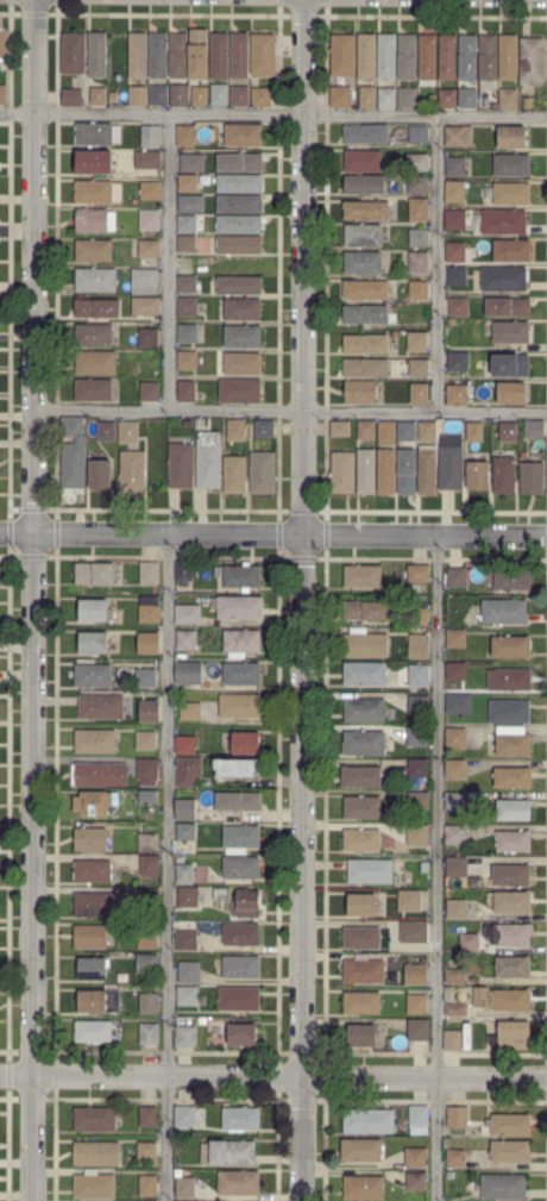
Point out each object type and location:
building: (4, 45)
building: (74, 54)
building: (98, 54)
building: (138, 54)
building: (200, 54)
building: (263, 54)
building: (158, 55)
building: (180, 55)
building: (219, 55)
building: (239, 56)
building: (342, 56)
building: (366, 56)
building: (386, 56)
building: (407, 56)
building: (448, 57)
building: (467, 57)
building: (508, 57)
building: (427, 60)
building: (532, 60)
building: (488, 61)
building: (4, 94)
building: (158, 94)
building: (180, 94)
building: (219, 94)
building: (99, 95)
building: (138, 95)
building: (200, 95)
building: (239, 95)
building: (71, 96)
building: (260, 96)
building: (340, 96)
building: (367, 96)
building: (386, 96)
building: (407, 96)
building: (467, 96)
building: (447, 98)
building: (509, 98)
road: (273, 112)
building: (98, 133)
building: (366, 133)
building: (417, 135)
building: (150, 136)
building: (187, 136)
building: (243, 136)
building: (454, 136)
building: (513, 137)
building: (426, 158)
building: (147, 159)
building: (364, 161)
building: (93, 162)
building: (239, 162)
building: (193, 163)
building: (510, 164)
building: (455, 165)
building: (188, 183)
building: (240, 183)
building: (365, 183)
building: (417, 183)
building: (150, 189)
building: (98, 192)
building: (455, 192)
building: (511, 193)
building: (190, 202)
building: (239, 204)
building: (365, 209)
building: (419, 209)
building: (150, 219)
building: (455, 219)
building: (95, 220)
building: (503, 221)
building: (187, 224)
building: (239, 224)
building: (363, 234)
building: (417, 238)
building: (186, 243)
building: (239, 244)
building: (144, 249)
building: (93, 250)
building: (511, 250)
building: (455, 251)
road: (170, 261)
building: (419, 262)
road: (436, 262)
building: (364, 263)
building: (457, 276)
building: (95, 279)
building: (503, 279)
building: (144, 281)
building: (187, 283)
building: (238, 286)
building: (365, 289)
building: (417, 290)
building: (145, 306)
building: (187, 306)
building: (458, 306)
building: (508, 306)
building: (99, 308)
building: (243, 308)
building: (364, 313)
building: (452, 321)
building: (510, 331)
building: (187, 333)
building: (93, 334)
building: (146, 336)
building: (243, 336)
building: (416, 340)
building: (365, 344)
building: (187, 359)
building: (458, 361)
building: (95, 362)
building: (243, 363)
building: (510, 364)
building: (419, 367)
building: (366, 368)
building: (93, 389)
building: (150, 390)
building: (186, 390)
building: (239, 390)
building: (360, 392)
building: (511, 392)
building: (419, 394)
building: (458, 394)
road: (289, 409)
building: (199, 421)
building: (188, 423)
building: (235, 429)
building: (264, 429)
building: (340, 429)
building: (106, 430)
building: (365, 430)
building: (534, 430)
building: (407, 431)
building: (427, 431)
building: (473, 431)
building: (508, 431)
building: (128, 432)
building: (385, 433)
building: (74, 452)
building: (523, 455)
building: (209, 459)
building: (181, 465)
building: (451, 467)
building: (427, 469)
building: (132, 470)
building: (366, 471)
building: (386, 471)
building: (407, 471)
building: (100, 473)
building: (263, 473)
building: (344, 473)
building: (504, 474)
building: (234, 475)
building: (478, 475)
building: (533, 478)
road: (273, 534)
building: (183, 570)
building: (149, 573)
building: (94, 574)
building: (420, 575)
building: (243, 576)
building: (361, 576)
building: (457, 576)
building: (511, 577)
building: (147, 598)
road: (32, 600)
road: (302, 600)
building: (238, 609)
building: (365, 609)
building: (94, 611)
building: (503, 612)
building: (150, 613)
building: (189, 614)
building: (417, 618)
building: (455, 638)
building: (187, 640)
building: (94, 642)
building: (240, 642)
building: (145, 643)
building: (365, 643)
building: (417, 646)
building: (511, 646)
building: (182, 655)
building: (189, 671)
building: (455, 671)
building: (365, 674)
building: (93, 675)
building: (240, 675)
building: (419, 675)
building: (146, 677)
building: (513, 678)
building: (417, 703)
building: (239, 705)
building: (457, 706)
building: (101, 707)
building: (190, 711)
building: (365, 711)
building: (508, 711)
building: (150, 712)
building: (417, 736)
building: (455, 738)
building: (145, 739)
building: (94, 740)
building: (510, 742)
building: (246, 743)
building: (364, 743)
building: (186, 745)
building: (231, 750)
building: (237, 768)
building: (417, 768)
building: (454, 769)
building: (146, 770)
building: (188, 770)
building: (99, 775)
building: (361, 777)
building: (513, 777)
building: (147, 797)
building: (417, 800)
building: (239, 801)
building: (454, 801)
building: (93, 802)
building: (361, 807)
building: (186, 808)
building: (513, 811)
building: (186, 832)
building: (417, 834)
building: (454, 834)
building: (240, 836)
building: (89, 839)
building: (361, 839)
building: (514, 840)
building: (146, 843)
building: (149, 865)
road: (165, 867)
building: (425, 867)
building: (457, 867)
building: (243, 868)
road: (436, 868)
building: (93, 871)
building: (370, 871)
building: (183, 875)
building: (513, 875)
building: (184, 895)
building: (410, 899)
building: (513, 901)
building: (150, 903)
building: (247, 903)
building: (95, 905)
building: (360, 905)
building: (457, 908)
building: (131, 913)
building: (415, 932)
building: (241, 933)
building: (509, 933)
building: (89, 936)
building: (147, 937)
building: (361, 938)
building: (187, 939)
building: (469, 943)
building: (423, 958)
building: (147, 963)
building: (238, 967)
building: (513, 967)
building: (93, 969)
building: (363, 969)
building: (189, 972)
building: (416, 974)
building: (454, 976)
building: (479, 995)
building: (188, 996)
building: (239, 999)
building: (509, 1000)
building: (99, 1001)
building: (361, 1002)
building: (149, 1003)
building: (416, 1003)
building: (454, 1009)
building: (177, 1020)
building: (419, 1030)
building: (93, 1031)
building: (149, 1032)
building: (241, 1034)
building: (511, 1036)
building: (184, 1037)
building: (360, 1037)
building: (453, 1039)
road: (15, 1074)
road: (289, 1076)
building: (187, 1115)
building: (147, 1116)
building: (417, 1116)
building: (458, 1116)
building: (93, 1119)
building: (240, 1119)
building: (367, 1121)
building: (509, 1124)
building: (146, 1150)
building: (361, 1150)
building: (510, 1150)
building: (233, 1152)
building: (96, 1153)
building: (414, 1157)
building: (454, 1157)
building: (453, 1175)
building: (415, 1181)
building: (238, 1182)
building: (94, 1184)
building: (146, 1184)
building: (503, 1187)
building: (184, 1188)
building: (364, 1188)

